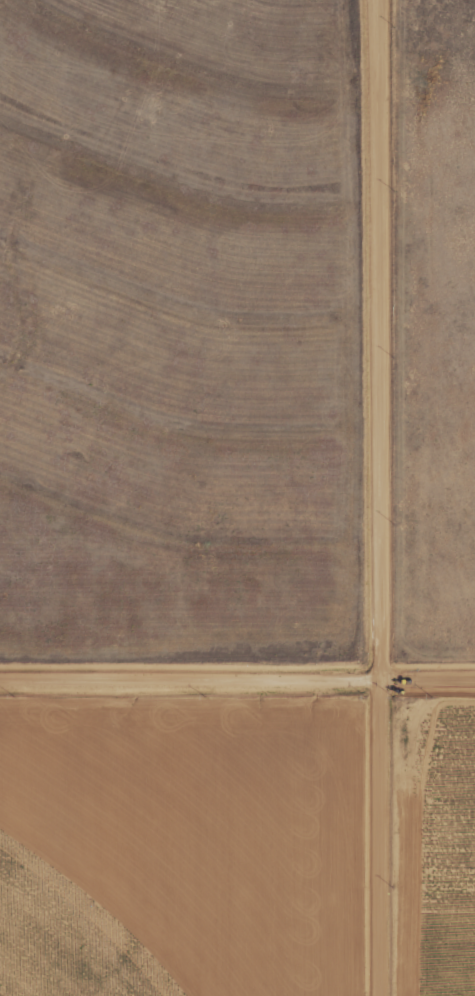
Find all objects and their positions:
road: (396, 497)
road: (237, 700)

